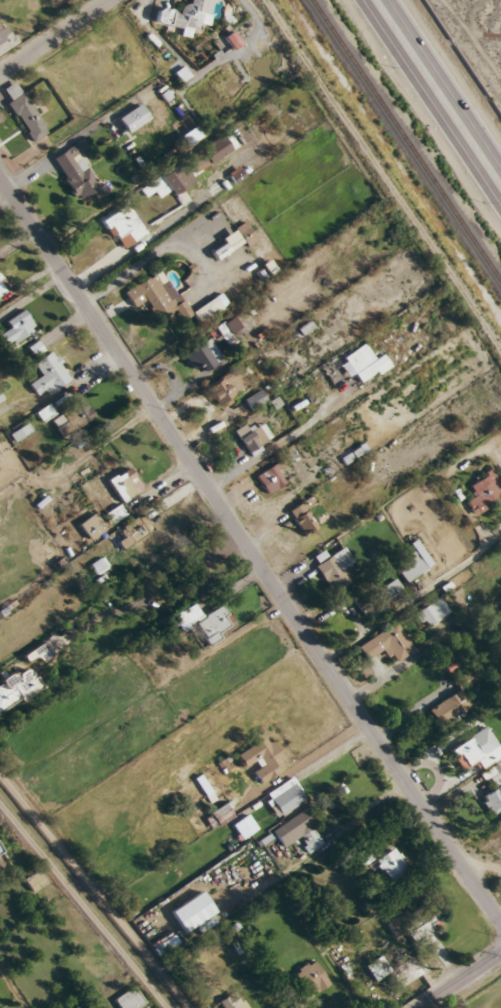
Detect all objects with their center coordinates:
building: (184, 16)
road: (51, 34)
building: (5, 38)
road: (443, 86)
building: (23, 112)
building: (132, 118)
building: (190, 136)
railway: (406, 140)
building: (75, 147)
building: (210, 152)
building: (81, 180)
building: (169, 181)
building: (124, 226)
building: (233, 240)
building: (1, 289)
building: (167, 298)
building: (16, 328)
building: (223, 331)
building: (201, 356)
building: (363, 362)
building: (48, 374)
building: (225, 386)
building: (0, 399)
building: (254, 400)
building: (67, 416)
building: (251, 438)
building: (270, 478)
building: (123, 484)
building: (483, 491)
building: (114, 513)
building: (303, 515)
building: (91, 526)
building: (133, 530)
road: (247, 551)
building: (413, 563)
building: (334, 569)
building: (380, 598)
building: (431, 613)
building: (204, 622)
building: (386, 643)
building: (35, 653)
building: (16, 687)
building: (451, 703)
building: (475, 749)
building: (262, 759)
building: (493, 788)
building: (284, 796)
building: (0, 854)
building: (390, 864)
building: (34, 880)
building: (192, 911)
building: (421, 926)
building: (375, 969)
building: (409, 970)
building: (309, 978)
road: (461, 981)
building: (128, 999)

